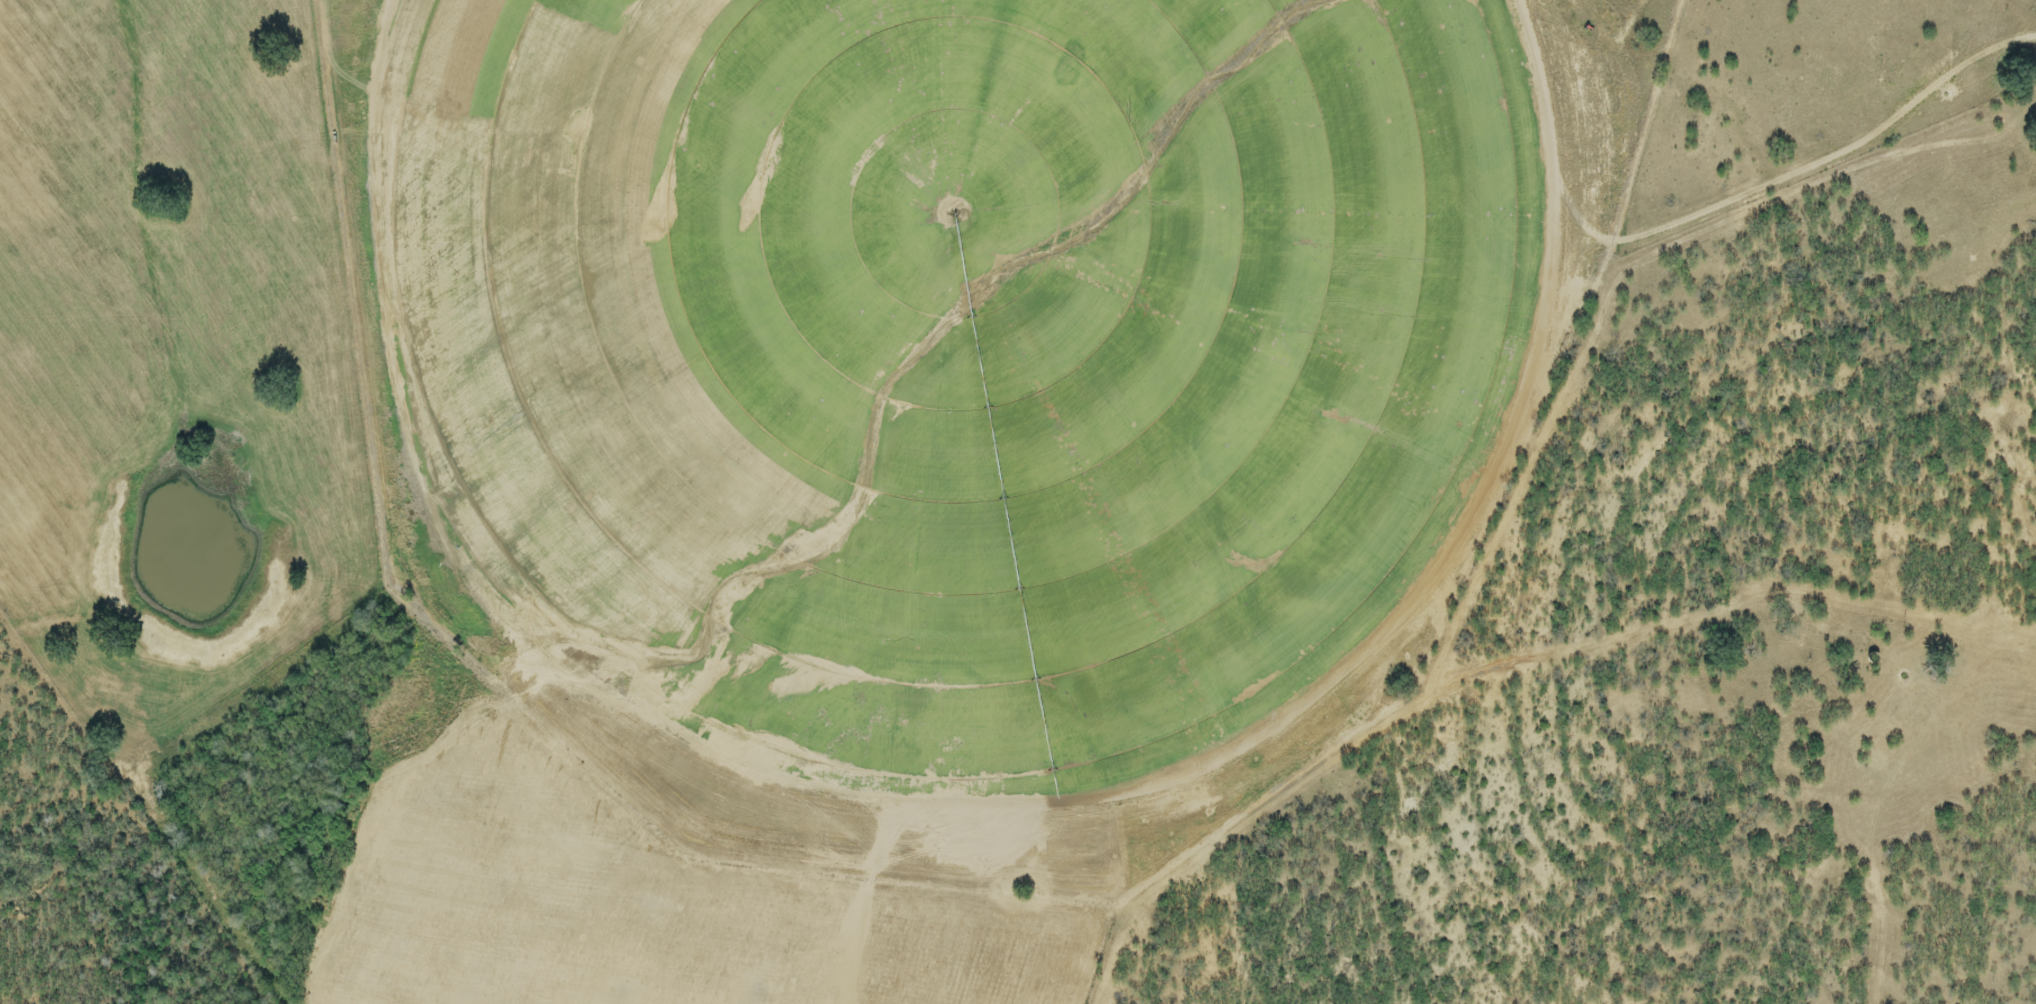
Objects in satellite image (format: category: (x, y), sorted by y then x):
road: (333, 27)

